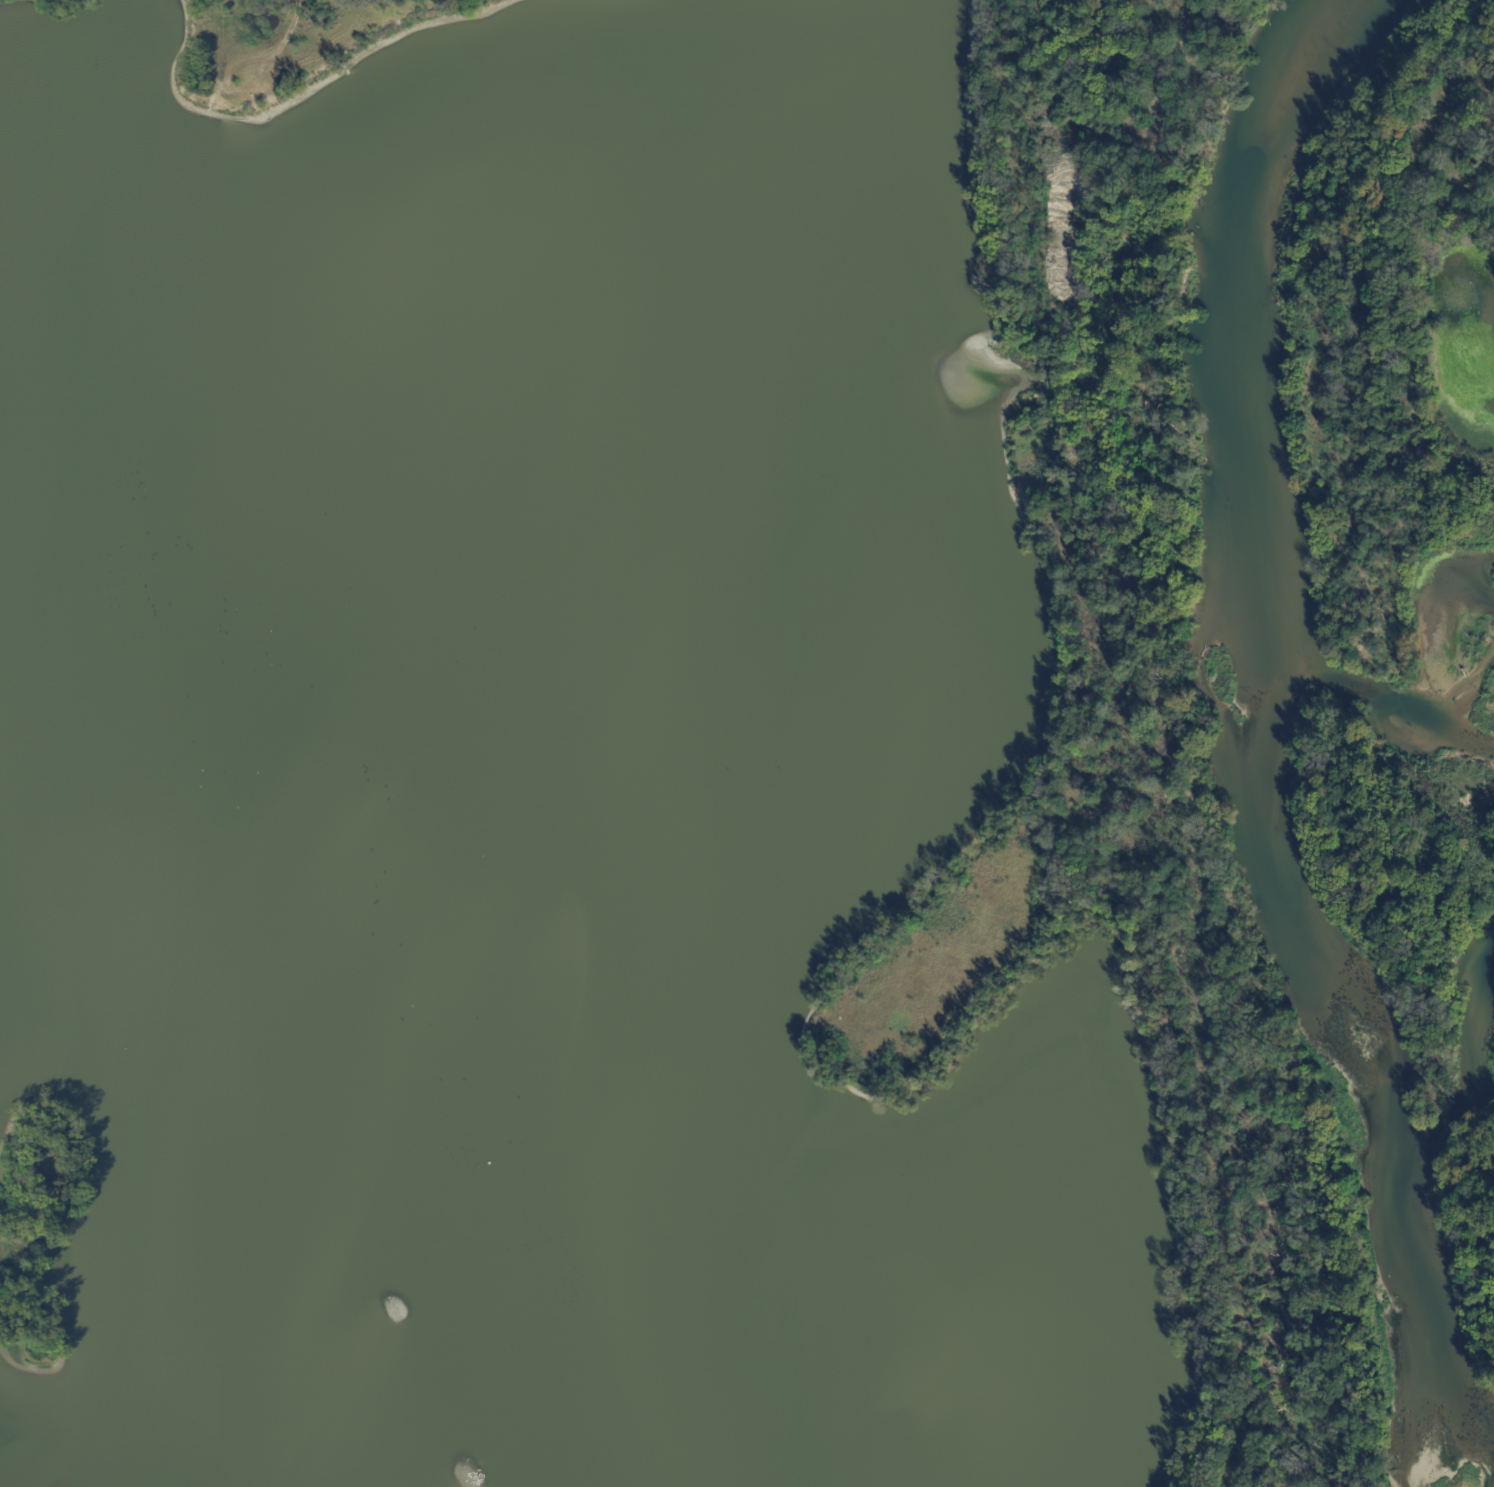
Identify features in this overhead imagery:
road: (279, 43)
river: (1256, 740)

